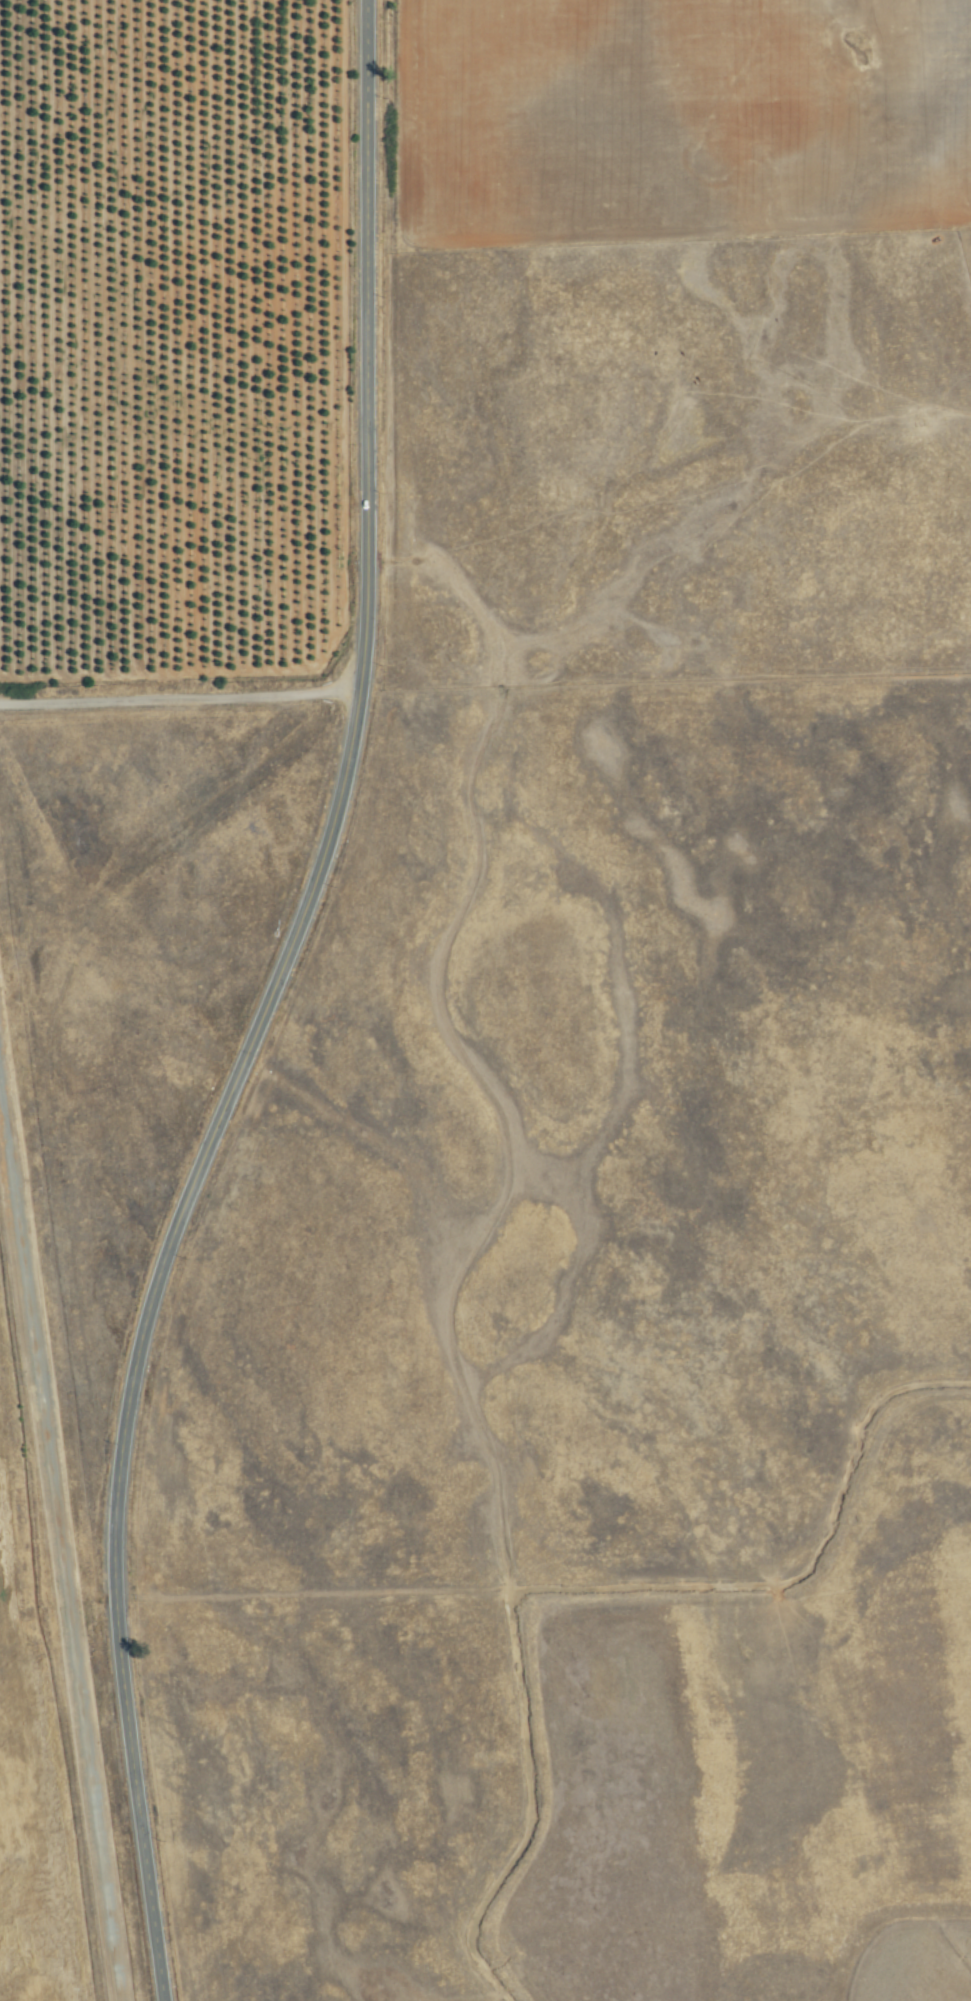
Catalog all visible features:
road: (179, 695)
road: (264, 1007)
road: (57, 1564)

